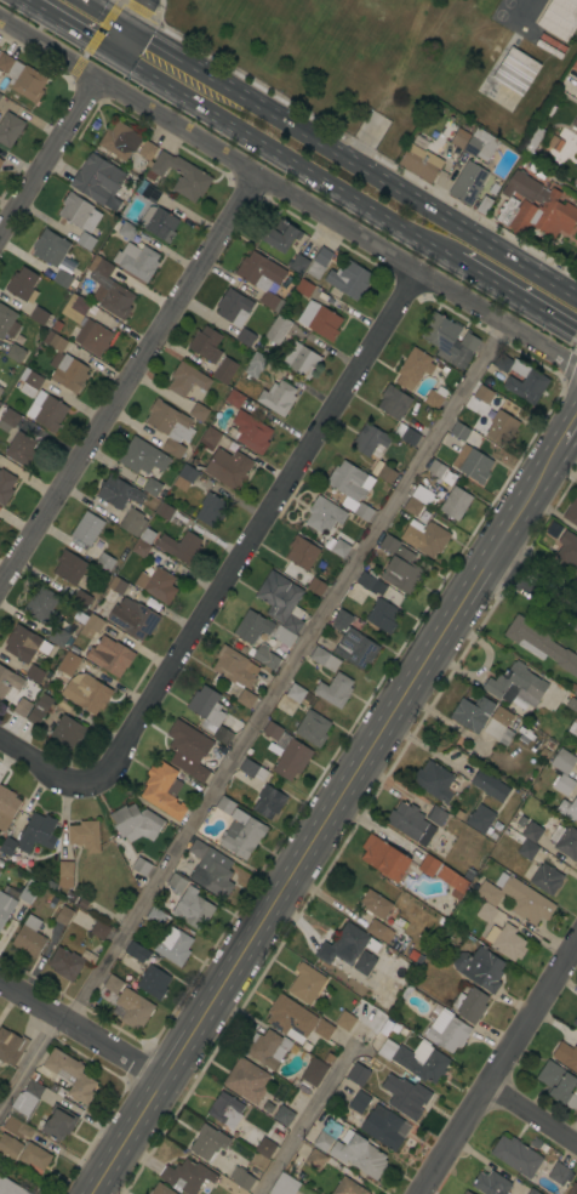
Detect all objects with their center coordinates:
road: (104, 13)
road: (135, 13)
building: (559, 18)
road: (73, 25)
road: (120, 40)
building: (553, 42)
building: (548, 49)
park: (350, 51)
building: (573, 66)
building: (516, 73)
building: (22, 78)
building: (0, 96)
building: (573, 125)
building: (10, 129)
building: (461, 131)
building: (120, 140)
building: (531, 140)
building: (480, 144)
building: (147, 149)
road: (285, 154)
building: (0, 157)
road: (50, 157)
building: (0, 161)
road: (353, 161)
building: (421, 163)
building: (195, 176)
building: (98, 181)
building: (468, 183)
building: (150, 193)
road: (288, 194)
building: (484, 205)
building: (535, 207)
building: (78, 212)
building: (159, 223)
building: (126, 231)
building: (280, 235)
building: (85, 240)
building: (55, 256)
building: (136, 261)
building: (319, 262)
building: (299, 265)
building: (259, 271)
building: (352, 280)
building: (22, 284)
building: (303, 288)
building: (109, 289)
road: (516, 294)
building: (270, 301)
building: (233, 307)
building: (75, 308)
building: (39, 315)
building: (319, 320)
building: (7, 322)
building: (278, 330)
building: (92, 337)
building: (246, 337)
building: (445, 340)
building: (469, 341)
building: (206, 345)
building: (15, 353)
building: (299, 359)
building: (64, 364)
building: (255, 364)
building: (413, 368)
building: (224, 370)
road: (127, 380)
building: (187, 380)
building: (536, 381)
building: (29, 382)
building: (0, 388)
building: (482, 393)
building: (278, 397)
building: (434, 397)
building: (234, 399)
building: (393, 402)
building: (46, 410)
building: (199, 411)
building: (8, 420)
building: (170, 421)
building: (502, 427)
building: (459, 431)
building: (251, 432)
building: (406, 434)
building: (208, 438)
building: (371, 440)
building: (172, 448)
building: (22, 450)
building: (142, 456)
building: (475, 466)
building: (228, 468)
building: (441, 472)
building: (387, 474)
building: (184, 477)
building: (5, 485)
building: (153, 488)
building: (352, 488)
building: (118, 493)
building: (423, 495)
building: (455, 504)
building: (412, 506)
building: (0, 508)
building: (211, 510)
building: (164, 511)
building: (571, 512)
building: (324, 514)
building: (423, 514)
building: (132, 522)
building: (87, 529)
road: (257, 530)
building: (147, 535)
building: (319, 539)
building: (425, 539)
building: (389, 544)
building: (181, 546)
building: (336, 546)
building: (141, 548)
building: (567, 550)
building: (302, 552)
building: (154, 555)
building: (104, 562)
building: (69, 568)
building: (401, 572)
building: (370, 584)
building: (116, 585)
building: (156, 585)
building: (316, 586)
road: (535, 589)
building: (278, 595)
building: (81, 599)
building: (40, 604)
building: (99, 613)
building: (383, 615)
building: (132, 618)
building: (293, 620)
building: (91, 626)
building: (252, 626)
building: (57, 636)
building: (282, 636)
building: (353, 641)
building: (24, 644)
building: (539, 644)
building: (109, 655)
building: (264, 656)
building: (324, 659)
building: (68, 663)
building: (233, 667)
building: (34, 673)
building: (259, 673)
road: (281, 676)
building: (8, 681)
building: (515, 684)
building: (335, 689)
building: (295, 693)
building: (88, 694)
building: (245, 698)
building: (571, 704)
building: (22, 706)
building: (40, 709)
building: (210, 713)
building: (473, 713)
building: (274, 724)
building: (499, 726)
building: (572, 727)
building: (313, 729)
building: (67, 732)
building: (221, 749)
building: (188, 750)
building: (576, 754)
building: (288, 756)
building: (562, 761)
road: (41, 764)
building: (252, 769)
building: (436, 781)
building: (564, 784)
building: (490, 785)
building: (162, 789)
building: (268, 802)
building: (224, 804)
building: (7, 807)
building: (569, 809)
road: (332, 811)
building: (458, 814)
building: (435, 815)
building: (480, 818)
building: (521, 820)
building: (135, 823)
building: (410, 823)
building: (531, 831)
building: (241, 834)
building: (85, 835)
building: (29, 838)
building: (565, 841)
building: (198, 848)
building: (526, 849)
building: (383, 858)
building: (1, 864)
building: (141, 866)
building: (65, 874)
building: (470, 874)
building: (442, 875)
building: (545, 879)
building: (213, 880)
building: (176, 883)
building: (24, 898)
building: (516, 898)
building: (375, 904)
building: (5, 906)
building: (192, 909)
building: (486, 912)
building: (64, 914)
building: (155, 916)
building: (99, 929)
building: (378, 931)
building: (29, 937)
building: (352, 940)
building: (505, 942)
building: (173, 945)
building: (137, 951)
building: (364, 962)
building: (64, 963)
building: (131, 963)
building: (480, 968)
building: (152, 982)
building: (305, 983)
building: (112, 984)
building: (470, 1005)
building: (132, 1008)
building: (290, 1018)
building: (344, 1020)
building: (575, 1022)
building: (322, 1028)
building: (447, 1031)
road: (76, 1037)
building: (11, 1046)
building: (267, 1048)
building: (566, 1056)
building: (329, 1058)
road: (23, 1059)
building: (415, 1059)
road: (498, 1067)
building: (313, 1071)
building: (358, 1074)
building: (70, 1075)
building: (246, 1080)
building: (558, 1084)
building: (406, 1094)
building: (359, 1102)
building: (225, 1109)
building: (22, 1110)
road: (532, 1114)
building: (282, 1115)
road: (302, 1119)
building: (58, 1122)
building: (383, 1127)
building: (207, 1142)
building: (322, 1142)
building: (8, 1147)
building: (264, 1148)
building: (359, 1154)
building: (516, 1155)
building: (34, 1156)
building: (315, 1160)
building: (559, 1173)
building: (185, 1176)
building: (241, 1178)
building: (490, 1183)
building: (285, 1184)
building: (10, 1187)
building: (348, 1187)
building: (160, 1189)
building: (572, 1190)
building: (465, 1192)
building: (532, 1192)
building: (462, 1193)

